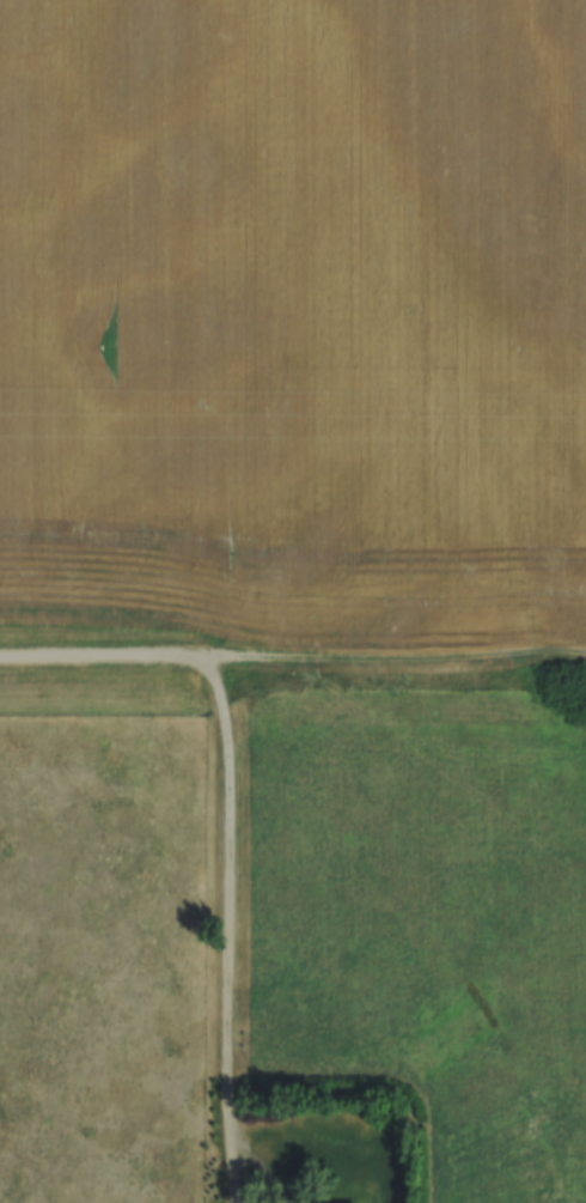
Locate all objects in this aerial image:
road: (103, 654)
road: (395, 657)
road: (231, 922)
building: (292, 1172)
building: (298, 1201)

